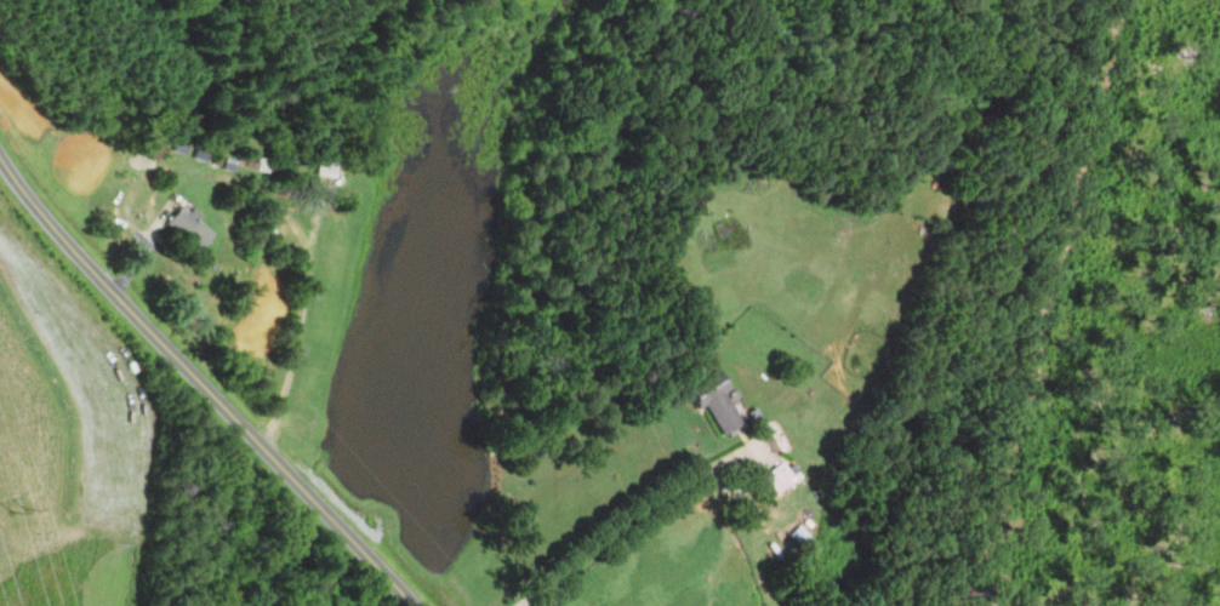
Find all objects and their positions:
building: (192, 228)
road: (303, 305)
road: (203, 383)
building: (712, 400)
building: (774, 479)
power tower: (17, 510)
road: (629, 518)

